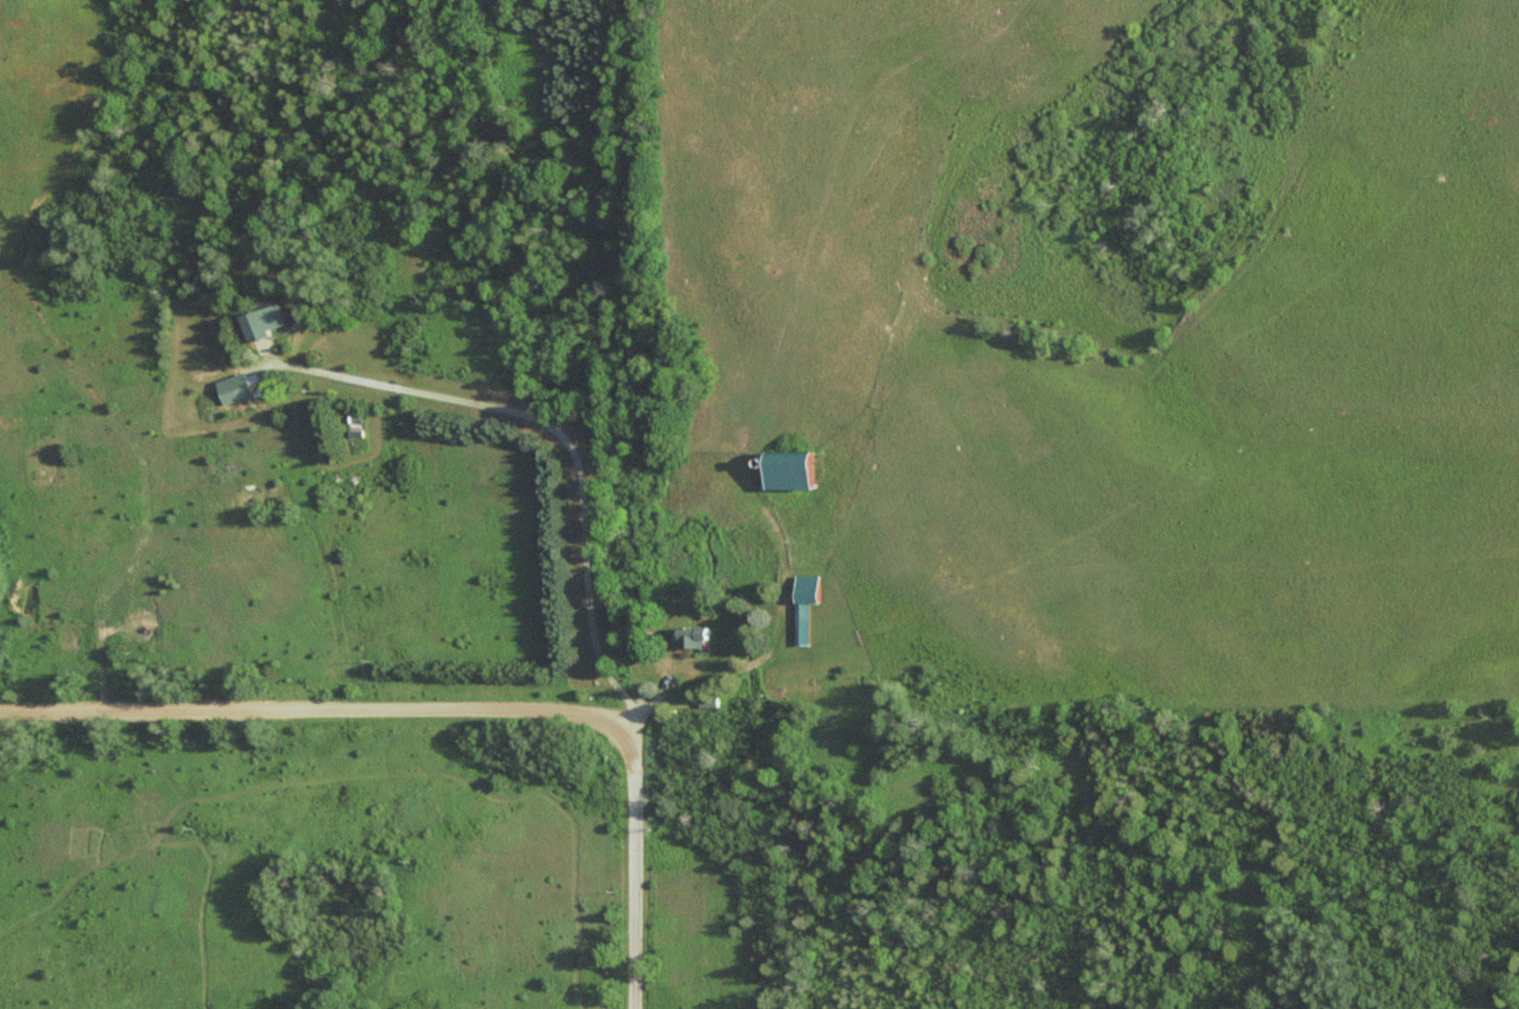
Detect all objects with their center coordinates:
building: (259, 320)
building: (250, 388)
road: (562, 429)
building: (785, 471)
building: (806, 603)
road: (783, 613)
building: (692, 637)
building: (828, 684)
road: (309, 708)
road: (635, 864)

